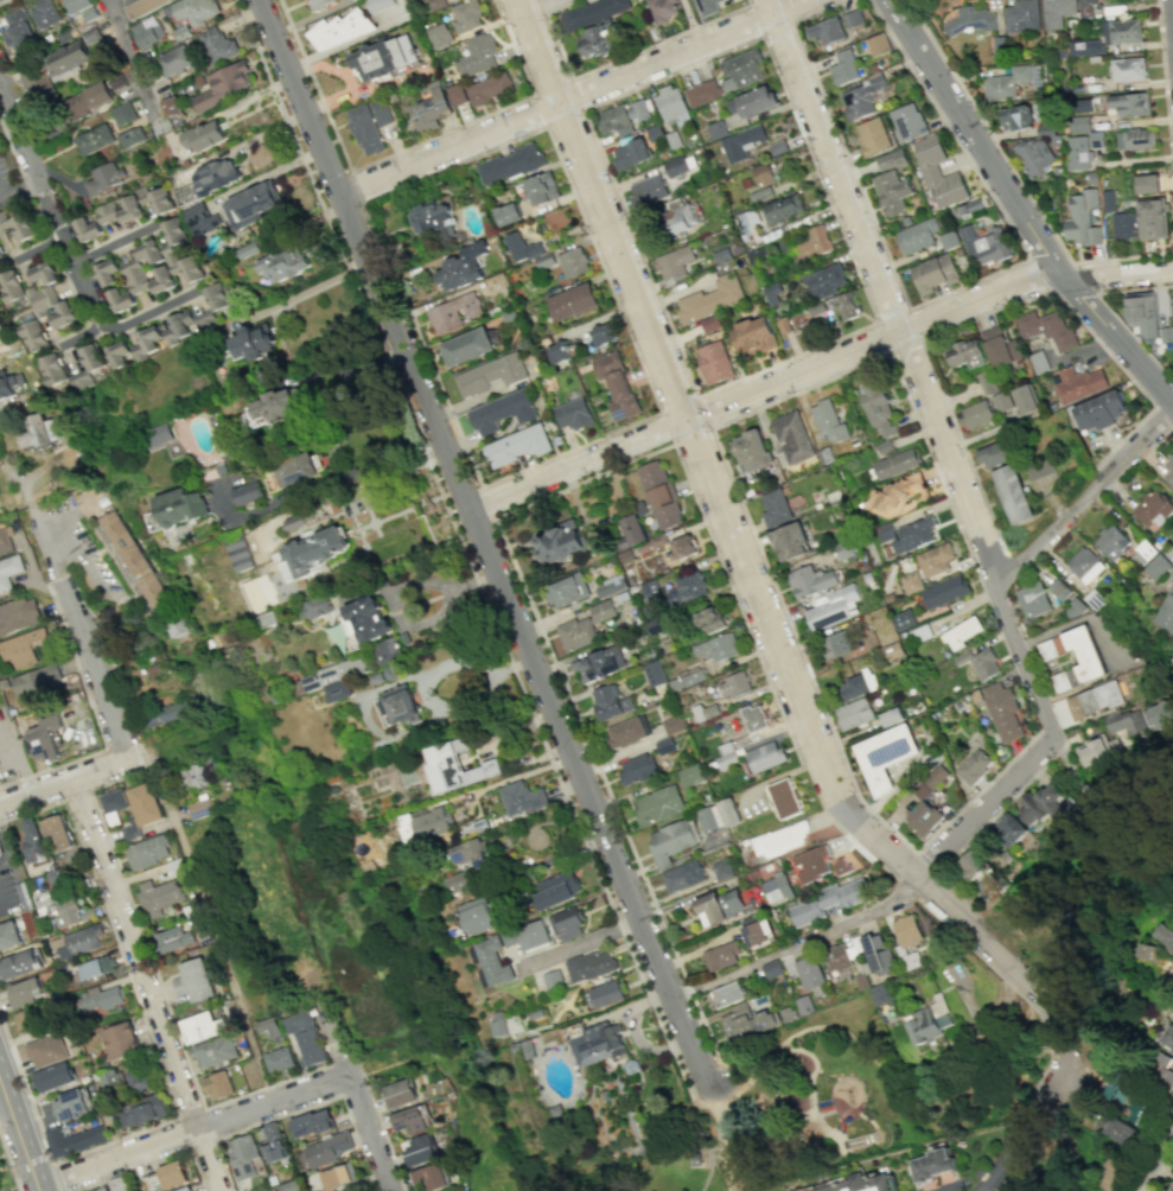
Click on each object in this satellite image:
road: (1, 0)
building: (1086, 1)
building: (318, 2)
road: (756, 2)
building: (76, 5)
building: (378, 5)
building: (141, 6)
building: (707, 6)
building: (196, 9)
building: (662, 9)
building: (1057, 12)
building: (44, 13)
building: (592, 13)
building: (466, 15)
building: (1022, 15)
building: (853, 18)
road: (756, 19)
building: (971, 19)
road: (788, 24)
building: (825, 30)
building: (17, 31)
building: (337, 31)
building: (1122, 31)
building: (147, 32)
building: (438, 34)
building: (89, 36)
building: (595, 40)
building: (878, 44)
building: (218, 45)
building: (1086, 47)
building: (477, 55)
road: (623, 57)
building: (385, 58)
building: (65, 59)
building: (174, 59)
road: (133, 62)
building: (844, 68)
building: (741, 69)
building: (1128, 69)
building: (34, 83)
building: (1006, 83)
building: (224, 84)
road: (312, 85)
building: (489, 88)
building: (702, 93)
building: (457, 94)
road: (570, 94)
road: (1164, 94)
building: (860, 97)
building: (88, 98)
building: (752, 101)
building: (1130, 103)
building: (168, 106)
building: (429, 106)
building: (671, 106)
building: (380, 112)
building: (122, 113)
road: (487, 113)
building: (621, 117)
building: (907, 121)
building: (1080, 123)
road: (543, 126)
building: (364, 129)
building: (716, 129)
building: (872, 135)
building: (202, 136)
building: (130, 138)
building: (94, 139)
building: (1135, 139)
building: (740, 142)
road: (9, 147)
building: (1038, 149)
building: (630, 153)
building: (1078, 153)
building: (891, 160)
building: (509, 164)
building: (675, 165)
building: (938, 173)
parking lot: (7, 174)
building: (761, 174)
road: (1015, 174)
building: (215, 176)
building: (104, 177)
road: (565, 177)
building: (1147, 184)
road: (355, 186)
building: (541, 189)
building: (646, 191)
building: (892, 191)
road: (15, 193)
building: (153, 199)
building: (1108, 200)
building: (253, 203)
road: (47, 205)
building: (783, 208)
road: (1020, 208)
building: (117, 210)
building: (508, 214)
building: (1082, 217)
building: (200, 218)
building: (680, 218)
building: (748, 218)
building: (1153, 218)
building: (432, 219)
building: (18, 225)
building: (1122, 225)
building: (87, 228)
building: (917, 235)
road: (115, 242)
building: (815, 242)
building: (984, 246)
building: (528, 250)
building: (0, 256)
building: (167, 257)
road: (1027, 259)
building: (674, 261)
building: (573, 262)
building: (285, 263)
building: (461, 267)
building: (107, 272)
building: (42, 273)
building: (933, 273)
building: (824, 281)
building: (128, 285)
building: (11, 286)
road: (317, 286)
road: (885, 291)
road: (938, 295)
building: (217, 297)
building: (709, 298)
building: (42, 299)
building: (573, 301)
building: (846, 306)
building: (1172, 306)
road: (1108, 307)
road: (152, 308)
building: (453, 312)
building: (1141, 313)
building: (63, 314)
building: (190, 321)
road: (875, 321)
building: (1046, 327)
road: (76, 332)
building: (1166, 333)
building: (601, 335)
building: (33, 336)
building: (752, 336)
building: (153, 338)
road: (919, 339)
building: (2, 342)
building: (466, 346)
building: (1000, 346)
building: (136, 351)
building: (559, 352)
building: (963, 352)
building: (116, 354)
road: (814, 361)
building: (714, 362)
building: (85, 365)
building: (52, 369)
building: (490, 374)
road: (936, 381)
road: (1130, 382)
building: (8, 383)
building: (987, 383)
building: (1077, 383)
building: (616, 384)
building: (1026, 399)
building: (1001, 401)
building: (878, 406)
building: (272, 408)
building: (1098, 410)
building: (501, 412)
building: (976, 414)
road: (1161, 416)
building: (828, 421)
road: (709, 427)
road: (1172, 429)
building: (38, 431)
building: (160, 434)
road: (457, 434)
building: (791, 437)
building: (516, 445)
building: (751, 451)
building: (994, 454)
building: (895, 464)
building: (1040, 467)
building: (298, 470)
road: (1099, 470)
building: (1168, 471)
road: (323, 485)
building: (246, 492)
building: (659, 493)
building: (898, 493)
building: (1013, 493)
road: (26, 495)
road: (1084, 495)
road: (486, 502)
building: (176, 508)
building: (774, 508)
building: (1153, 508)
road: (751, 528)
building: (630, 530)
building: (885, 531)
building: (913, 534)
road: (502, 536)
building: (5, 539)
building: (790, 541)
building: (1113, 541)
building: (560, 542)
road: (485, 544)
building: (683, 547)
building: (314, 550)
road: (466, 550)
building: (240, 553)
building: (132, 554)
building: (935, 559)
road: (77, 560)
road: (990, 563)
building: (1085, 563)
building: (1156, 566)
building: (8, 569)
building: (810, 580)
building: (911, 581)
road: (752, 584)
building: (610, 586)
building: (688, 587)
building: (567, 590)
building: (944, 591)
building: (1033, 599)
building: (315, 606)
building: (834, 607)
building: (1166, 609)
building: (17, 614)
building: (366, 618)
building: (904, 619)
building: (710, 620)
building: (173, 625)
building: (585, 626)
building: (962, 632)
building: (837, 643)
road: (84, 644)
building: (23, 647)
building: (718, 648)
building: (387, 650)
building: (1089, 655)
road: (1025, 660)
building: (981, 662)
road: (478, 663)
building: (1172, 663)
building: (599, 664)
road: (109, 667)
building: (333, 673)
building: (654, 673)
building: (34, 681)
building: (734, 684)
building: (858, 684)
building: (338, 690)
building: (1094, 699)
building: (611, 702)
building: (396, 706)
building: (1002, 709)
building: (170, 711)
building: (854, 713)
building: (1159, 714)
road: (93, 718)
building: (753, 718)
building: (1123, 721)
road: (1043, 727)
building: (625, 732)
building: (43, 737)
parking lot: (11, 747)
building: (1091, 751)
building: (885, 754)
building: (764, 756)
road: (19, 760)
building: (974, 765)
building: (452, 768)
building: (639, 768)
building: (691, 775)
road: (516, 776)
building: (192, 777)
road: (75, 781)
building: (931, 781)
road: (809, 785)
road: (76, 792)
building: (519, 797)
building: (784, 797)
building: (145, 803)
building: (1039, 804)
building: (113, 805)
building: (659, 805)
road: (983, 805)
building: (198, 807)
building: (719, 815)
building: (923, 816)
building: (423, 822)
building: (129, 828)
building: (1007, 829)
building: (57, 832)
building: (31, 839)
building: (671, 840)
building: (779, 840)
road: (6, 846)
road: (854, 847)
building: (147, 849)
building: (0, 851)
building: (470, 852)
building: (812, 864)
building: (969, 865)
building: (174, 866)
building: (840, 866)
road: (901, 868)
building: (682, 875)
building: (55, 878)
building: (458, 880)
building: (777, 886)
building: (560, 887)
road: (901, 892)
parking lot: (7, 894)
building: (159, 894)
building: (23, 896)
building: (827, 900)
building: (713, 909)
building: (69, 911)
building: (88, 912)
building: (477, 915)
road: (134, 916)
building: (568, 923)
building: (30, 925)
road: (211, 925)
building: (757, 930)
building: (905, 930)
building: (8, 934)
building: (535, 935)
building: (1164, 935)
park: (1117, 936)
building: (510, 937)
building: (172, 938)
building: (81, 941)
road: (797, 942)
road: (579, 943)
building: (1143, 948)
road: (135, 953)
building: (721, 955)
building: (836, 957)
building: (493, 961)
building: (19, 962)
building: (96, 966)
building: (591, 966)
building: (771, 968)
building: (190, 970)
building: (809, 972)
building: (554, 980)
road: (999, 981)
building: (196, 986)
road: (132, 988)
building: (25, 991)
building: (607, 994)
building: (726, 994)
building: (100, 998)
building: (30, 1018)
building: (745, 1021)
building: (202, 1024)
building: (497, 1024)
building: (268, 1026)
building: (924, 1026)
road: (631, 1033)
building: (304, 1034)
building: (1168, 1037)
building: (121, 1040)
building: (598, 1044)
road: (336, 1045)
building: (46, 1049)
building: (213, 1050)
building: (278, 1058)
road: (878, 1058)
road: (727, 1065)
building: (1159, 1072)
building: (53, 1076)
road: (459, 1076)
building: (141, 1077)
building: (110, 1079)
building: (1111, 1083)
building: (218, 1084)
road: (264, 1085)
road: (811, 1085)
road: (25, 1091)
building: (401, 1094)
road: (270, 1098)
park: (833, 1102)
building: (72, 1103)
building: (1141, 1106)
road: (305, 1107)
building: (141, 1109)
road: (707, 1109)
road: (190, 1112)
road: (820, 1121)
road: (1063, 1121)
building: (312, 1122)
building: (410, 1123)
building: (272, 1131)
road: (183, 1132)
road: (368, 1132)
road: (382, 1132)
road: (19, 1133)
building: (1122, 1133)
road: (213, 1136)
building: (74, 1139)
road: (1006, 1145)
building: (327, 1148)
building: (274, 1149)
building: (422, 1151)
building: (697, 1152)
road: (116, 1153)
building: (241, 1155)
road: (208, 1158)
road: (1079, 1159)
road: (151, 1161)
road: (1156, 1161)
road: (9, 1163)
road: (223, 1165)
building: (930, 1165)
road: (725, 1167)
building: (172, 1173)
building: (1110, 1174)
road: (55, 1176)
building: (337, 1176)
building: (431, 1177)
building: (856, 1183)
building: (119, 1184)
road: (1078, 1184)
building: (291, 1185)
building: (98, 1189)
building: (183, 1189)
building: (1172, 1190)

